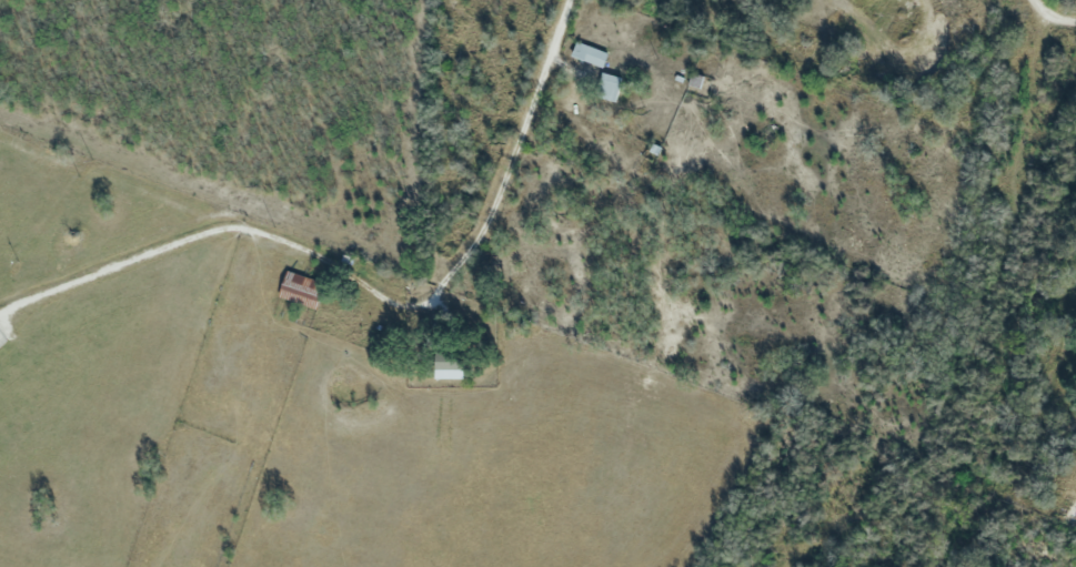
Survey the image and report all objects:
road: (1050, 11)
building: (587, 53)
building: (607, 87)
road: (507, 169)
road: (201, 205)
building: (301, 288)
building: (450, 366)

